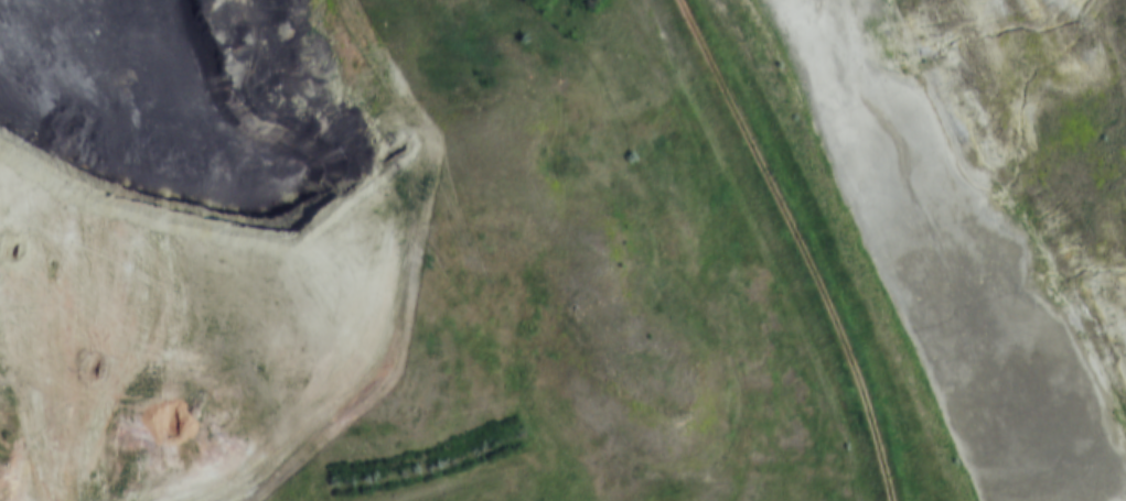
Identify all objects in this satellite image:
road: (803, 244)

